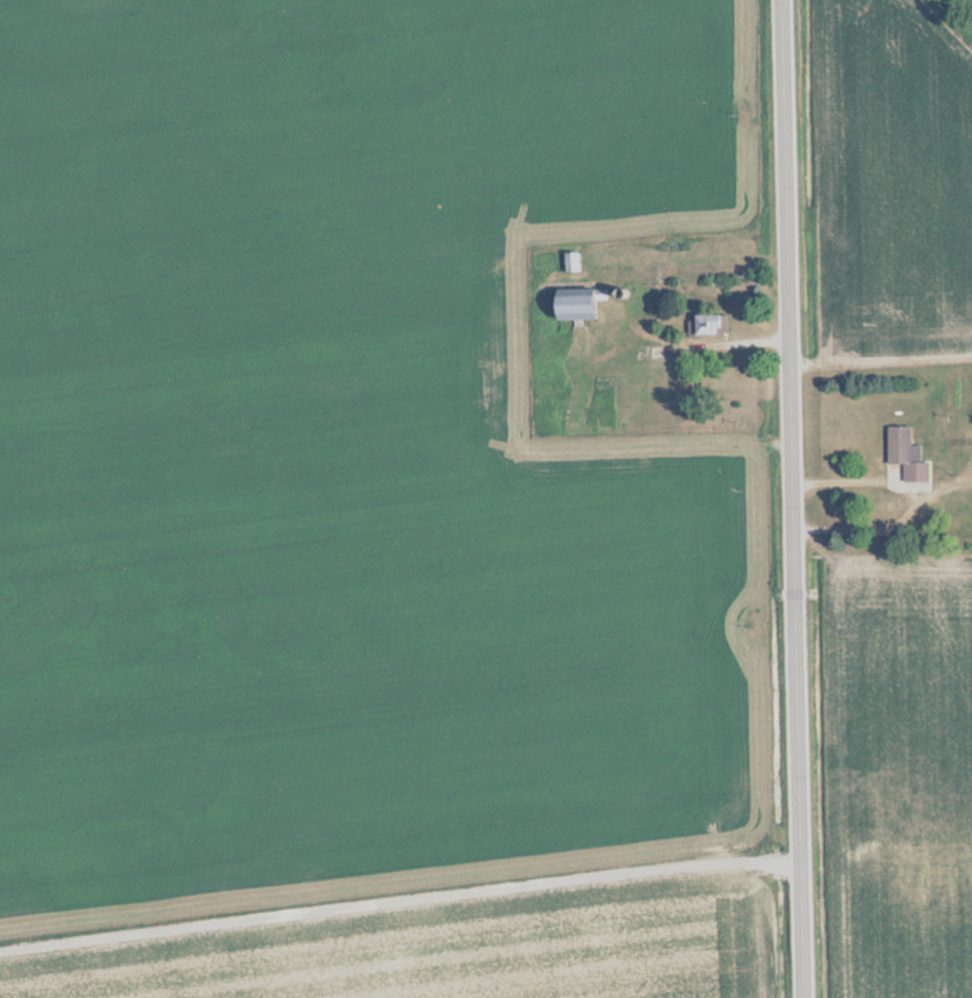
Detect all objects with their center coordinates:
building: (570, 263)
building: (574, 304)
building: (709, 325)
building: (905, 453)
road: (794, 499)

